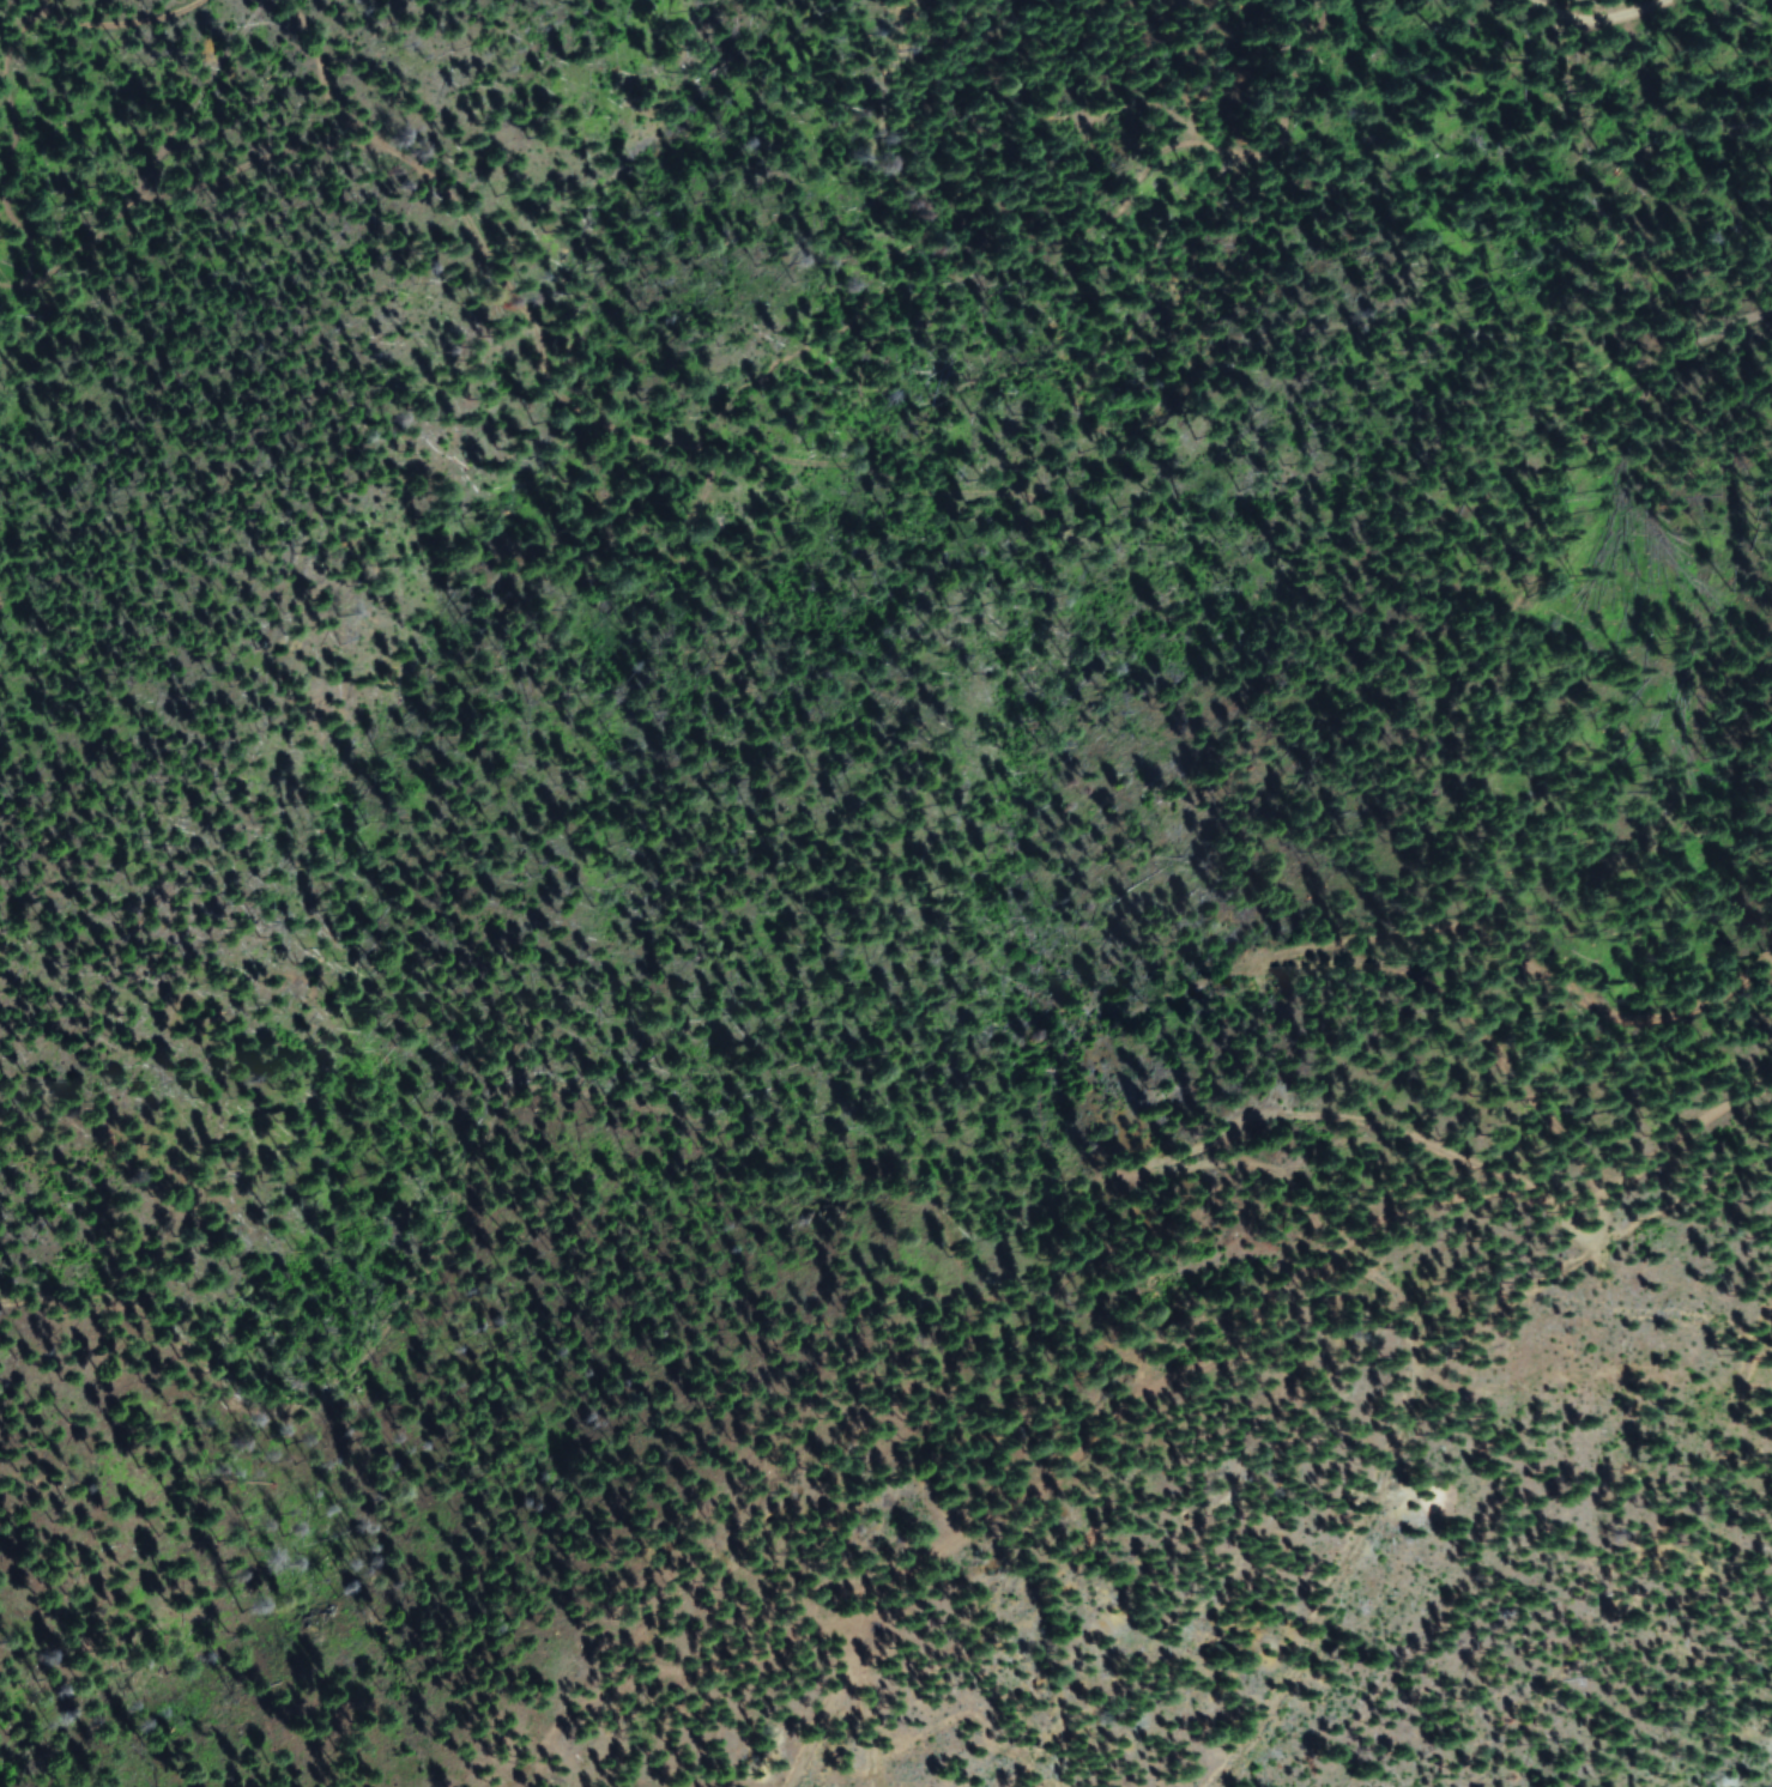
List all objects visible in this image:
road: (1595, 30)
mineshaft: (1224, 1266)
mineshaft: (1103, 1301)
mineshaft: (1492, 1332)
mineshaft: (1374, 1347)
mineshaft: (1154, 1355)
mineshaft: (1054, 1398)
mineshaft: (878, 1437)
mineshaft: (810, 1442)
mineshaft: (1239, 1444)
mineshaft: (1386, 1444)
mineshaft: (945, 1446)
mineshaft: (1093, 1495)
mineshaft: (945, 1520)
mineshaft: (834, 1529)
mineshaft: (1339, 1559)
mineshaft: (1112, 1568)
mineshaft: (1224, 1589)
mineshaft: (851, 1593)
mineshaft: (1124, 1683)
mineshaft: (921, 1716)

